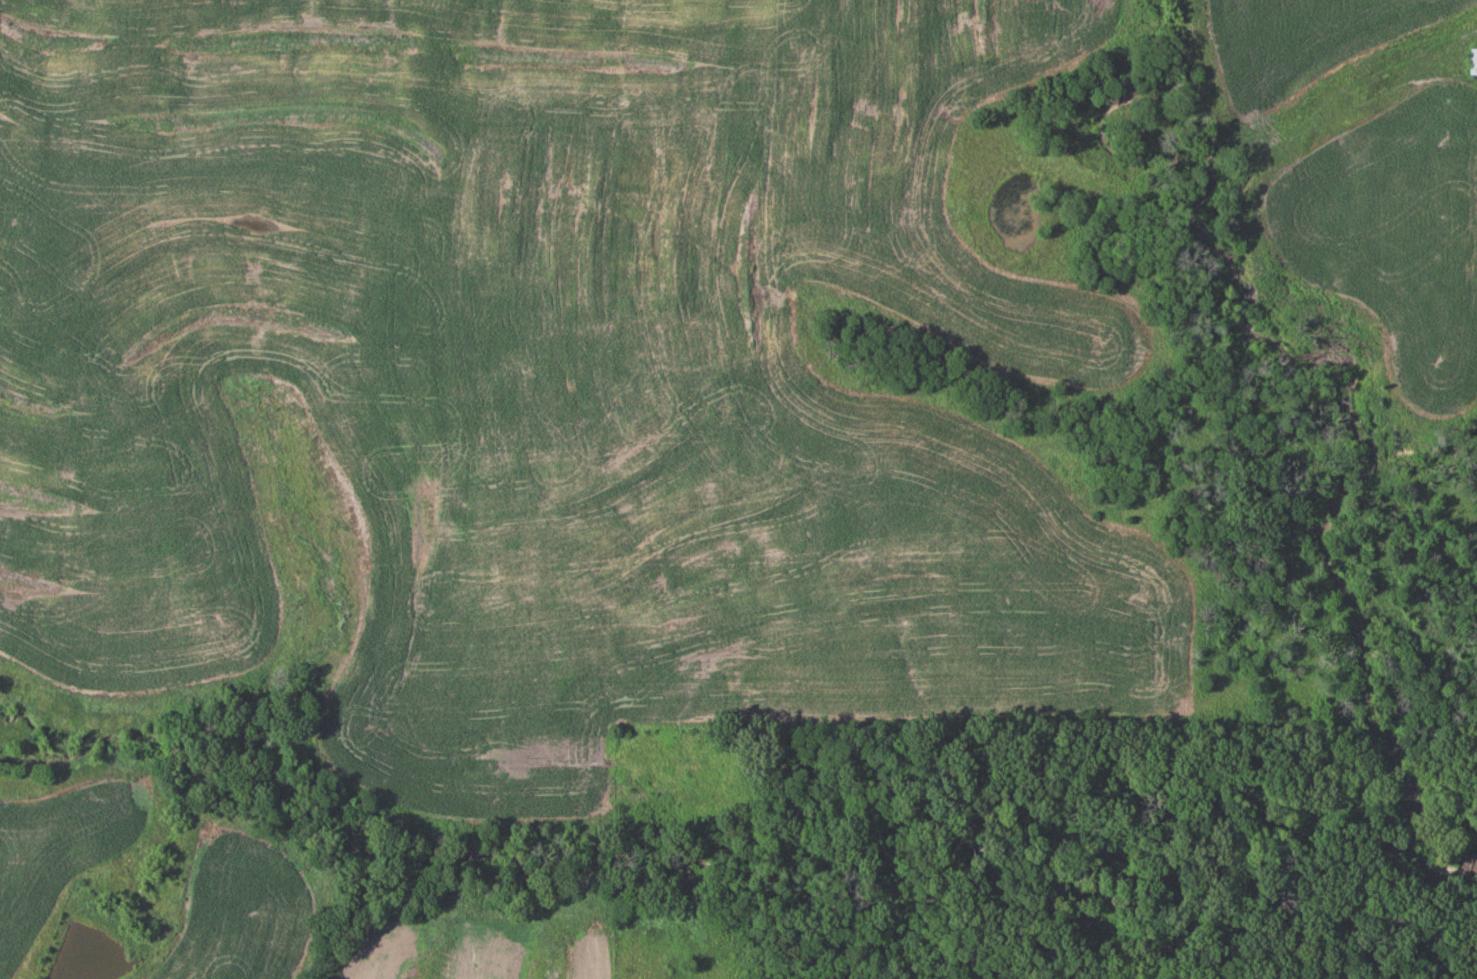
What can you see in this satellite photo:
building: (1474, 61)

